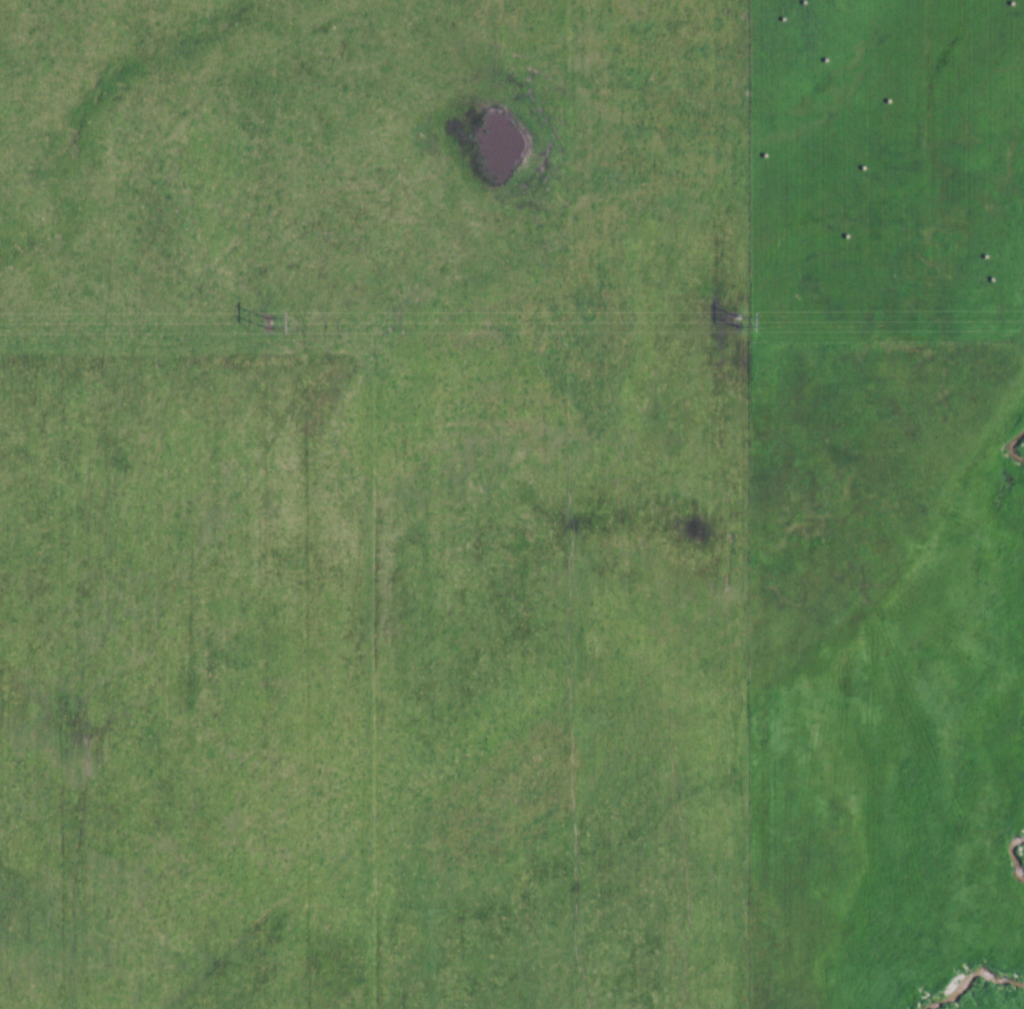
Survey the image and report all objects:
power tower: (739, 323)
power tower: (268, 324)
river: (1015, 448)
river: (1018, 856)
river: (973, 977)

